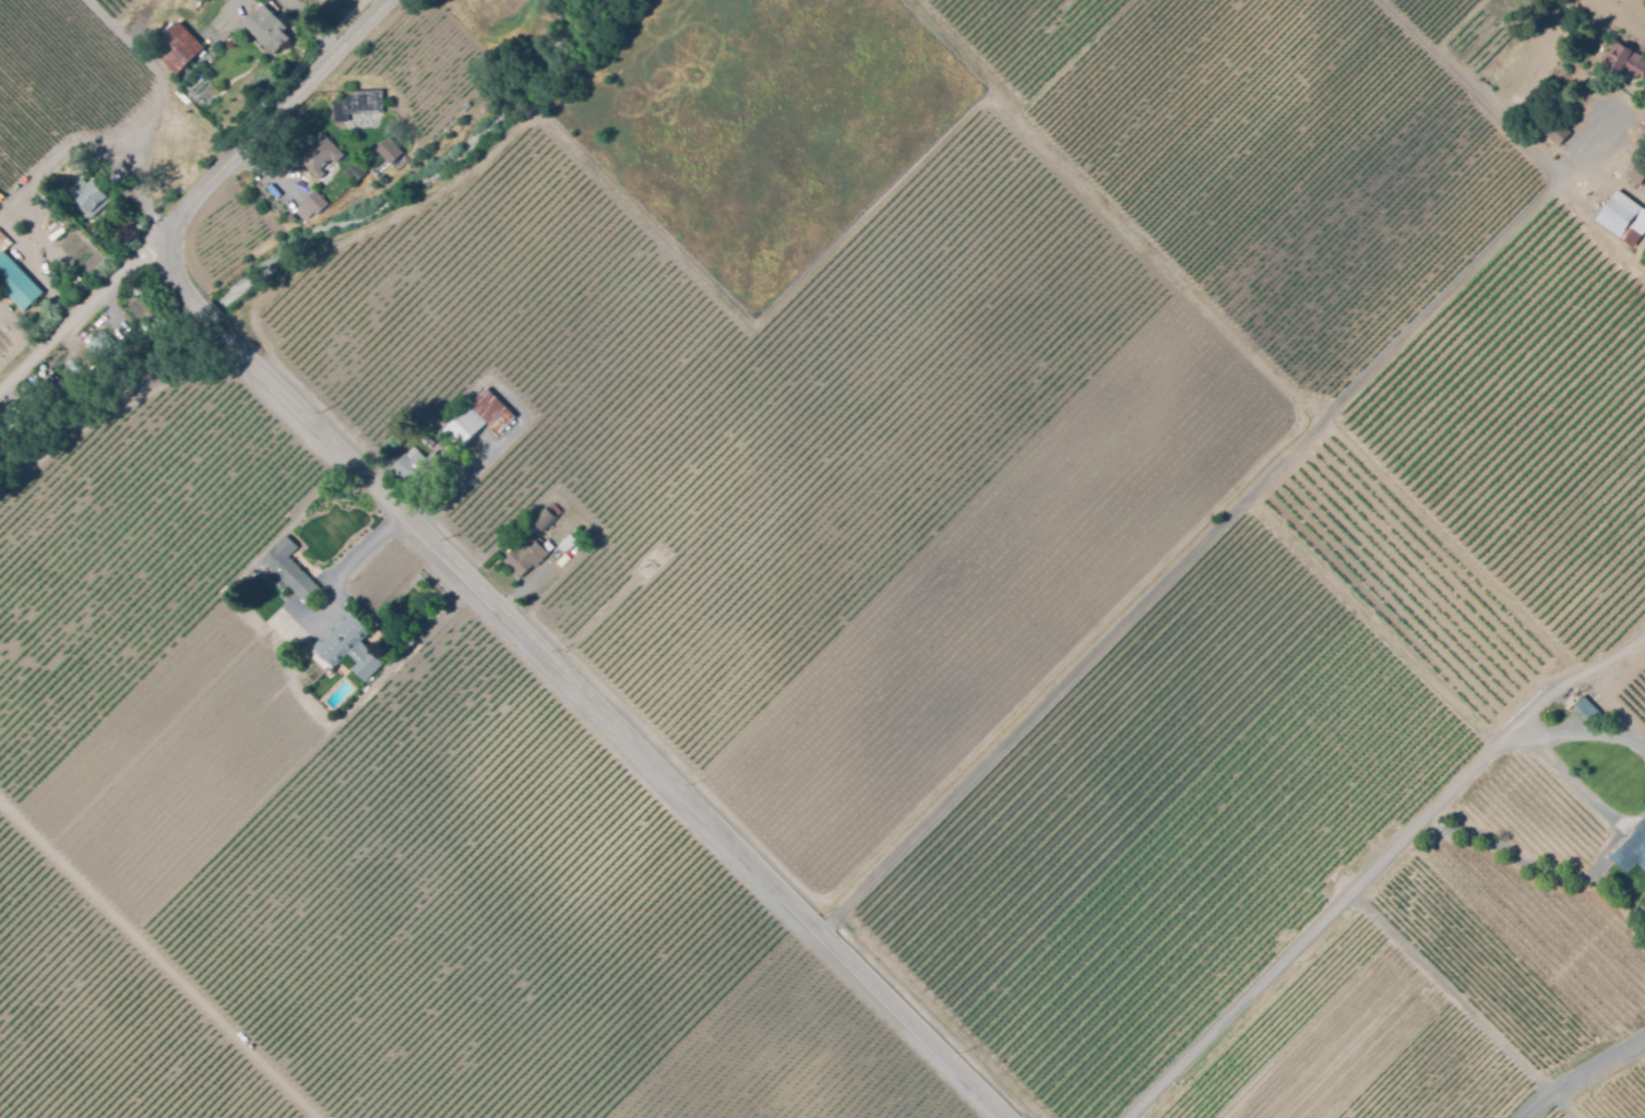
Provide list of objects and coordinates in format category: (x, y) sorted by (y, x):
building: (266, 29)
building: (176, 49)
building: (1626, 59)
road: (1471, 92)
building: (353, 103)
building: (1558, 131)
building: (385, 150)
building: (318, 155)
building: (1637, 171)
building: (355, 173)
building: (87, 197)
building: (310, 206)
building: (1623, 217)
building: (290, 221)
building: (74, 279)
building: (15, 281)
road: (83, 310)
building: (102, 344)
building: (73, 368)
building: (476, 420)
building: (419, 469)
building: (541, 520)
road: (1220, 528)
building: (559, 551)
building: (523, 559)
road: (462, 570)
building: (288, 571)
building: (290, 605)
building: (347, 647)
building: (317, 662)
building: (1586, 707)
building: (1631, 848)
road: (1382, 867)
road: (1636, 882)
road: (1581, 1078)

